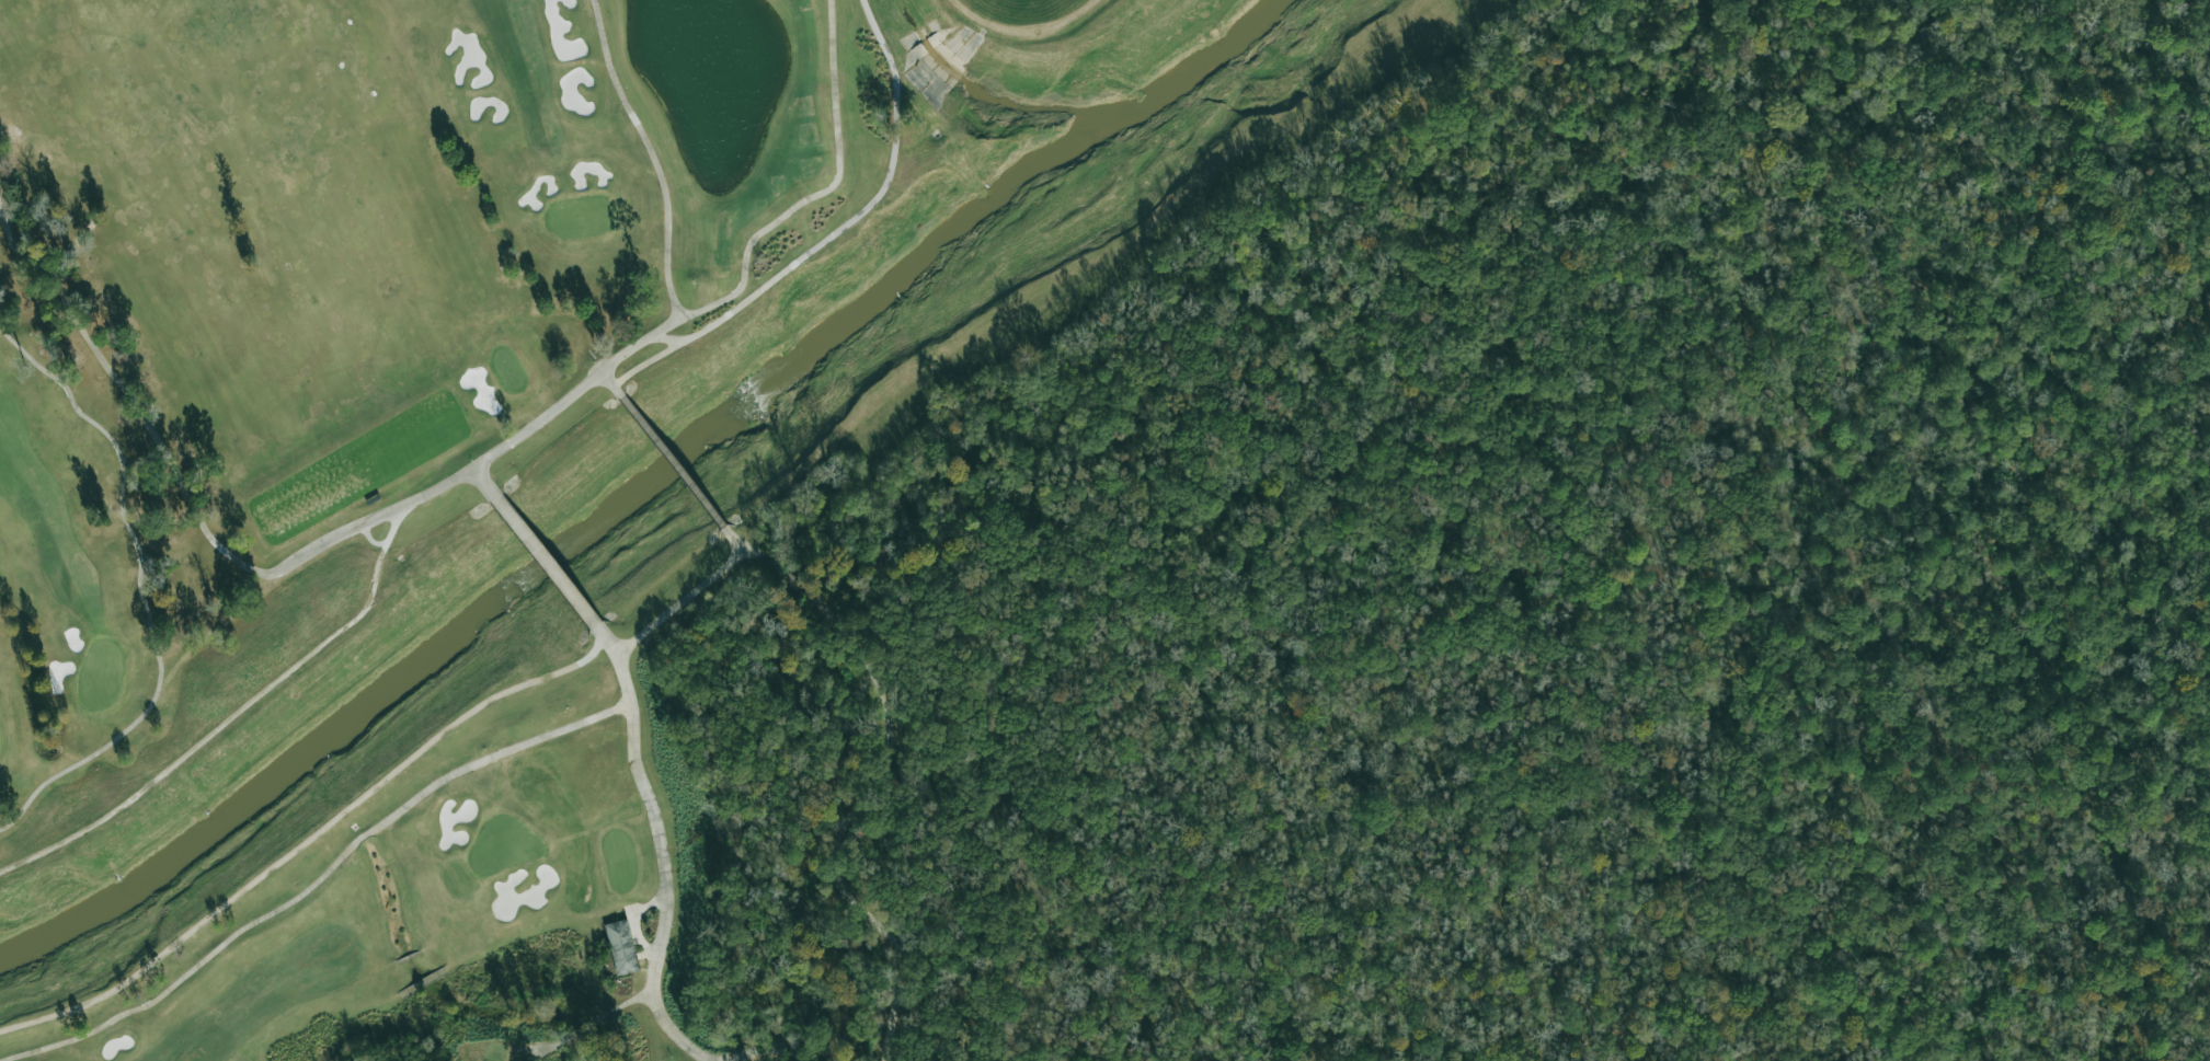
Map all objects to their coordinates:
road: (478, 487)
river: (638, 492)
park: (421, 537)
road: (540, 566)
park: (100, 578)
park: (604, 618)
road: (661, 861)
building: (620, 947)
road: (675, 1036)
road: (758, 1058)
road: (785, 1059)

